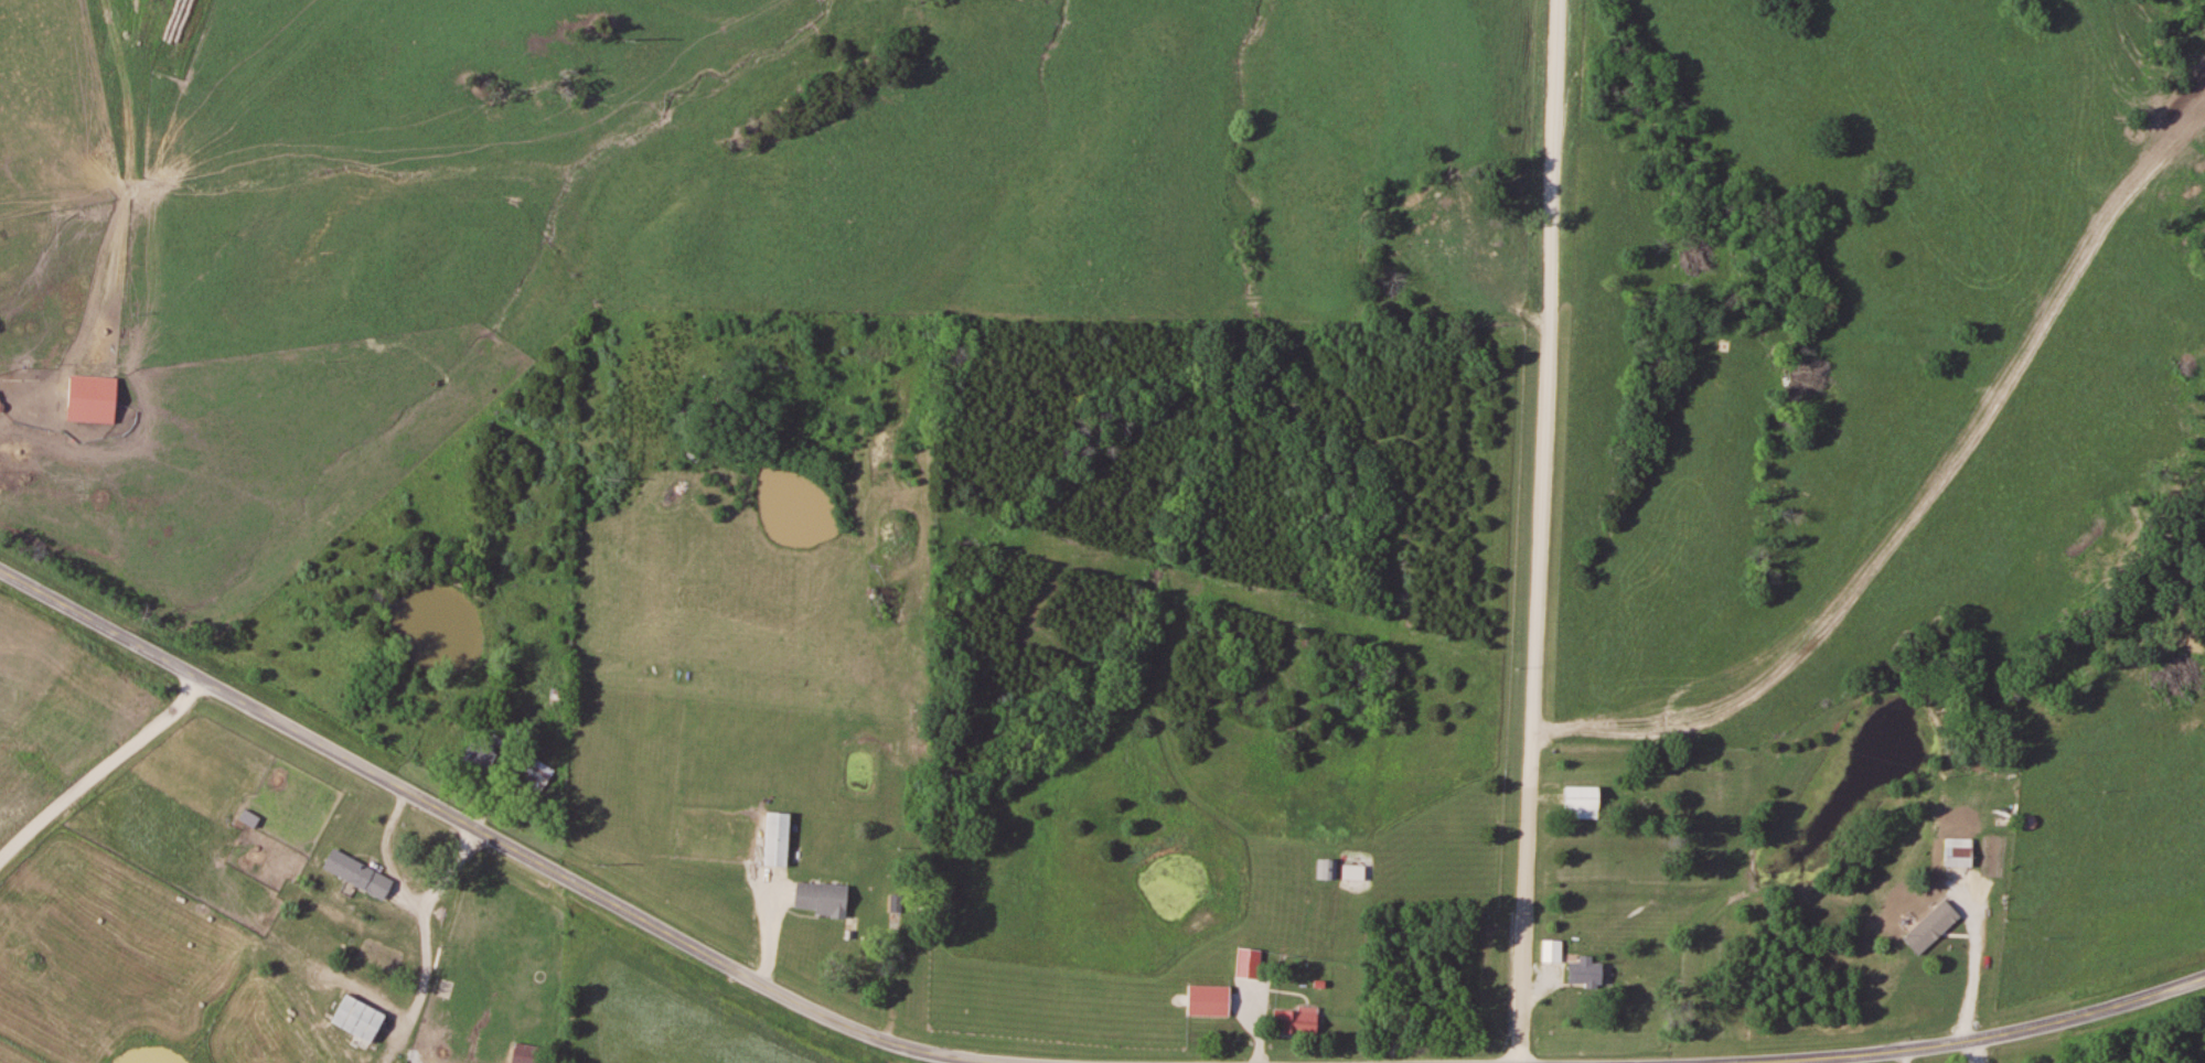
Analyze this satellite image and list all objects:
building: (94, 398)
road: (1540, 530)
building: (559, 696)
building: (484, 748)
road: (100, 773)
building: (537, 774)
building: (1585, 802)
building: (779, 839)
road: (507, 848)
building: (1960, 852)
building: (1328, 869)
building: (1355, 872)
building: (360, 874)
building: (823, 898)
building: (897, 903)
building: (1902, 904)
building: (1552, 952)
building: (864, 959)
building: (1587, 971)
building: (445, 989)
building: (1210, 1000)
building: (361, 1019)
building: (1304, 1021)
road: (2000, 1035)
building: (529, 1053)

